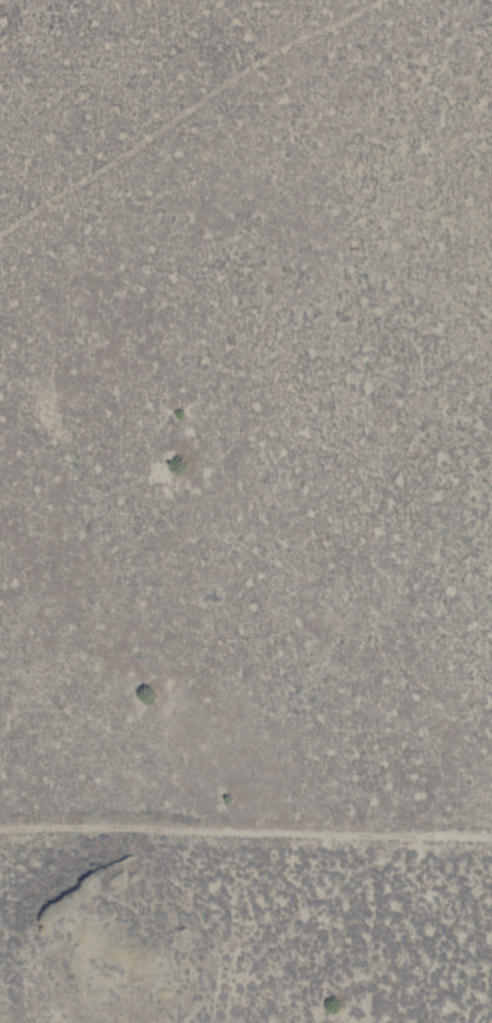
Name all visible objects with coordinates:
road: (480, 511)
road: (245, 832)

